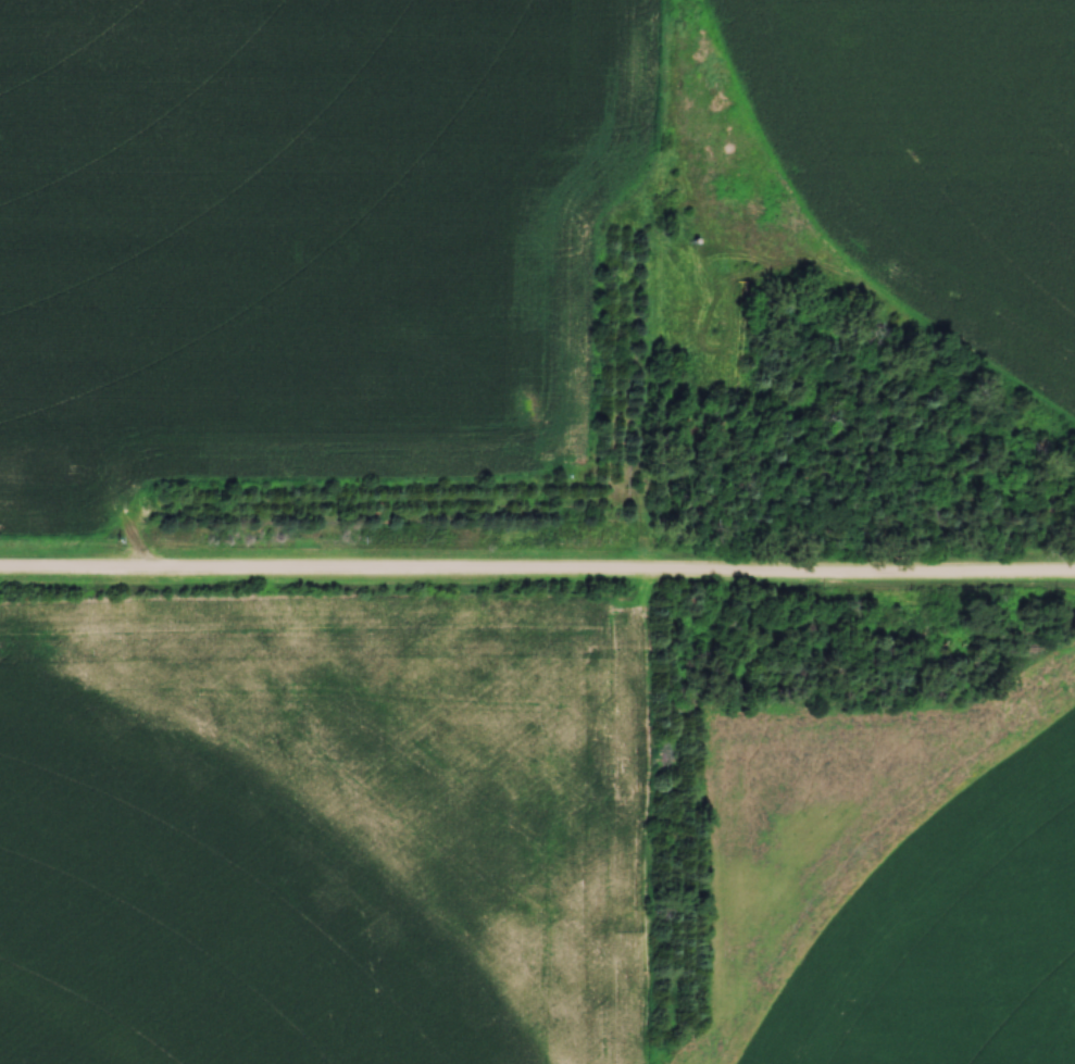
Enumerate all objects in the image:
road: (537, 571)

